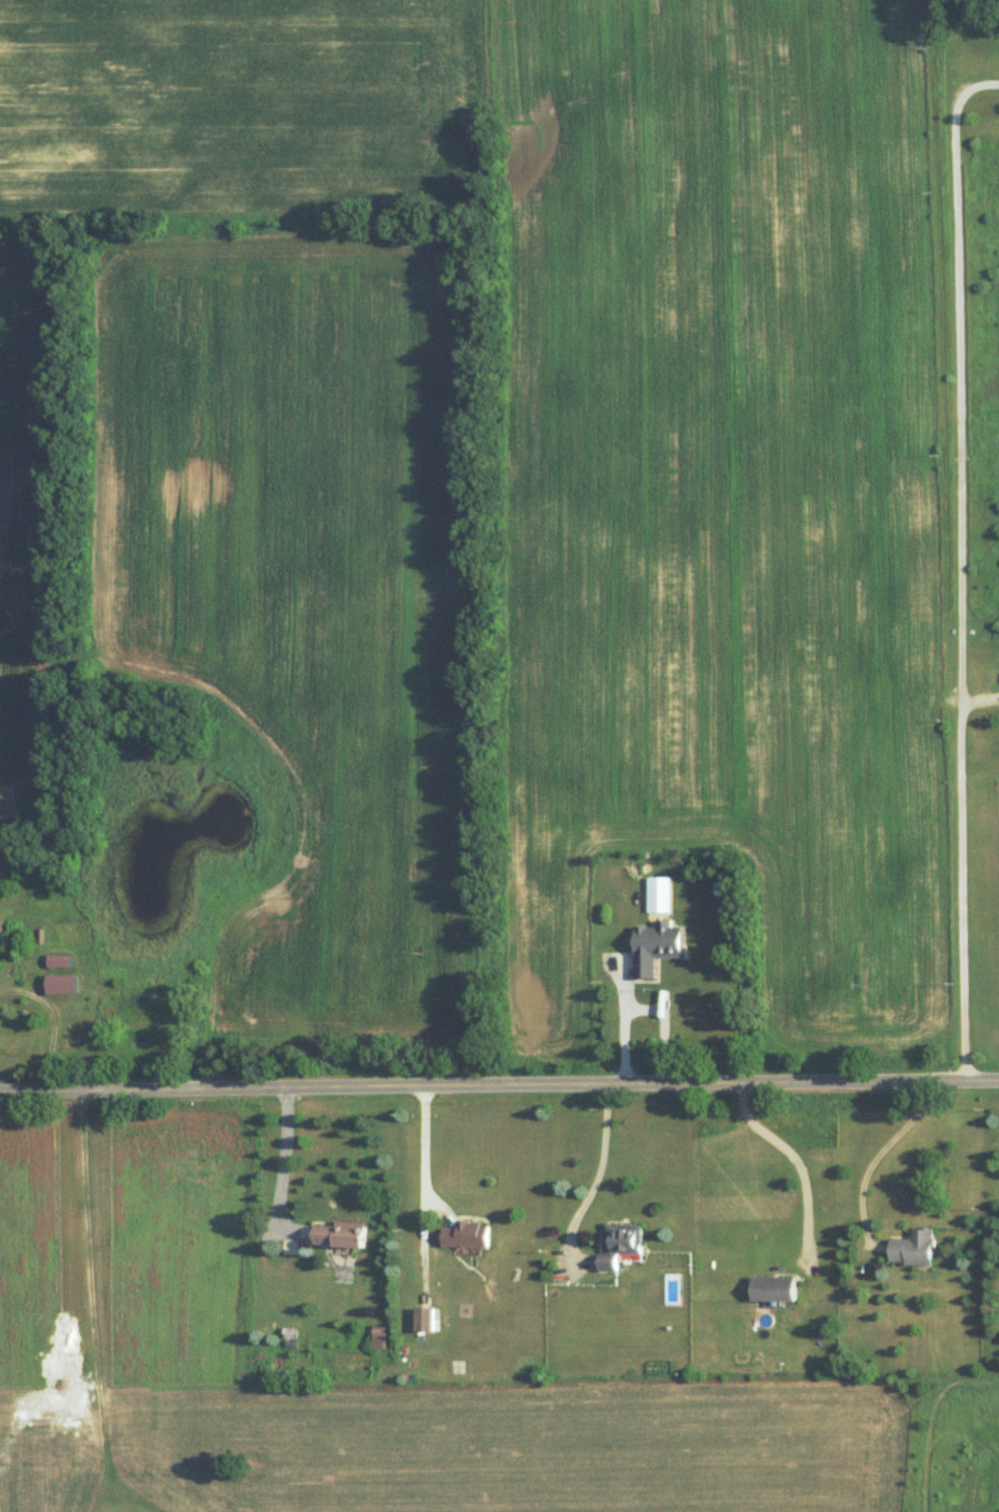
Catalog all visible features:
road: (977, 85)
road: (962, 590)
building: (647, 889)
building: (57, 962)
building: (60, 984)
building: (692, 1003)
road: (641, 1007)
road: (53, 1023)
road: (499, 1088)
road: (424, 1150)
road: (876, 1157)
road: (283, 1159)
road: (792, 1161)
road: (596, 1177)
building: (339, 1234)
building: (466, 1235)
building: (620, 1244)
building: (913, 1248)
building: (773, 1289)
building: (423, 1320)
building: (378, 1337)

